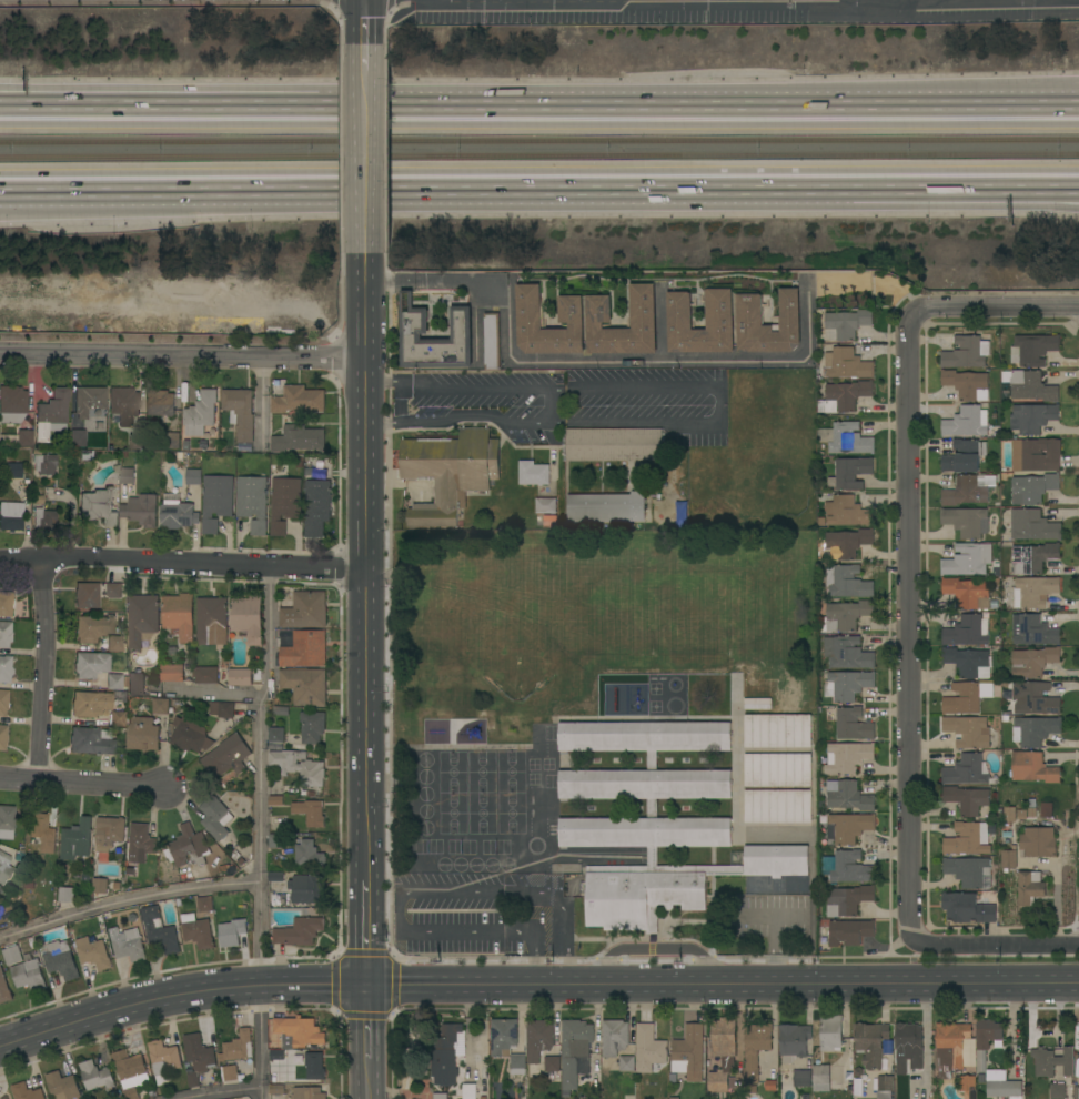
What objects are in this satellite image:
parking lot: (733, 9)
road: (367, 21)
road: (367, 56)
road: (82, 89)
road: (1042, 95)
road: (82, 97)
road: (585, 97)
railway: (539, 140)
railway: (539, 154)
road: (367, 163)
road: (221, 184)
road: (511, 184)
road: (829, 184)
road: (221, 196)
road: (827, 204)
building: (644, 309)
road: (995, 309)
building: (572, 310)
building: (720, 311)
building: (414, 321)
building: (750, 321)
road: (660, 324)
building: (845, 324)
building: (492, 341)
building: (1032, 350)
building: (966, 352)
road: (587, 359)
road: (182, 361)
building: (846, 364)
building: (966, 384)
building: (1031, 386)
road: (458, 387)
building: (843, 396)
building: (296, 399)
building: (88, 401)
building: (160, 403)
building: (11, 404)
building: (123, 405)
road: (401, 405)
road: (554, 405)
road: (719, 406)
building: (240, 412)
building: (200, 413)
building: (51, 414)
road: (458, 417)
building: (1031, 417)
building: (967, 422)
building: (23, 437)
building: (77, 437)
building: (298, 438)
building: (845, 438)
building: (172, 441)
building: (135, 442)
building: (185, 444)
building: (614, 444)
building: (244, 446)
building: (123, 453)
building: (1035, 454)
building: (85, 455)
building: (964, 456)
building: (105, 457)
building: (43, 464)
building: (12, 470)
building: (450, 473)
building: (533, 473)
building: (849, 473)
building: (125, 476)
building: (193, 476)
building: (1032, 488)
building: (970, 490)
building: (37, 498)
building: (215, 501)
building: (252, 502)
building: (284, 503)
building: (545, 505)
building: (98, 506)
building: (316, 507)
building: (606, 507)
building: (140, 510)
building: (846, 512)
building: (177, 513)
building: (682, 514)
building: (10, 516)
building: (43, 520)
building: (549, 521)
building: (966, 522)
building: (1032, 525)
building: (844, 544)
building: (1032, 557)
building: (967, 559)
road: (182, 564)
building: (996, 564)
road: (365, 567)
building: (995, 571)
building: (846, 582)
building: (94, 593)
building: (967, 593)
building: (1032, 593)
building: (992, 602)
building: (6, 603)
building: (304, 611)
building: (178, 615)
building: (844, 615)
building: (210, 617)
building: (248, 618)
building: (142, 619)
building: (93, 627)
road: (908, 631)
building: (967, 631)
building: (1035, 631)
building: (4, 634)
building: (115, 644)
building: (1, 649)
building: (171, 649)
building: (304, 649)
building: (847, 652)
building: (968, 662)
building: (1032, 662)
building: (90, 664)
building: (4, 668)
road: (39, 673)
building: (171, 673)
building: (256, 673)
building: (206, 675)
building: (240, 677)
building: (113, 682)
building: (135, 684)
building: (847, 685)
building: (304, 686)
road: (214, 693)
building: (1006, 695)
building: (1033, 698)
building: (961, 699)
building: (3, 702)
building: (173, 702)
building: (757, 703)
building: (89, 704)
building: (160, 706)
building: (221, 709)
building: (280, 710)
building: (117, 718)
building: (1004, 718)
building: (848, 724)
building: (311, 726)
building: (777, 730)
building: (1033, 730)
building: (967, 732)
building: (141, 734)
building: (189, 735)
building: (2, 736)
building: (275, 738)
building: (90, 742)
building: (226, 757)
building: (846, 757)
building: (298, 766)
building: (1031, 767)
building: (776, 769)
building: (968, 770)
road: (82, 787)
building: (306, 793)
building: (847, 795)
building: (274, 799)
building: (966, 799)
building: (777, 806)
building: (1046, 809)
building: (310, 811)
building: (1026, 814)
building: (1009, 815)
building: (215, 817)
building: (6, 819)
building: (655, 823)
building: (847, 827)
building: (42, 831)
road: (260, 831)
building: (109, 833)
building: (1006, 833)
building: (968, 838)
building: (75, 839)
building: (275, 840)
building: (1038, 841)
building: (140, 844)
building: (188, 846)
building: (19, 847)
building: (309, 854)
building: (234, 855)
building: (1008, 858)
building: (240, 860)
building: (847, 867)
building: (4, 869)
building: (129, 870)
building: (969, 871)
building: (275, 876)
building: (28, 885)
building: (99, 886)
building: (1029, 887)
building: (306, 889)
building: (1, 890)
road: (414, 893)
building: (65, 895)
building: (847, 900)
building: (178, 901)
road: (128, 903)
building: (203, 904)
building: (966, 908)
building: (204, 915)
road: (367, 929)
building: (196, 930)
building: (159, 931)
building: (299, 931)
building: (849, 931)
building: (231, 932)
building: (127, 944)
road: (997, 944)
building: (93, 952)
building: (60, 959)
building: (24, 968)
traffic signals: (369, 982)
road: (535, 984)
building: (3, 989)
road: (369, 1020)
building: (301, 1032)
building: (830, 1032)
building: (503, 1036)
building: (985, 1039)
building: (793, 1041)
building: (870, 1042)
building: (541, 1045)
building: (616, 1045)
building: (239, 1046)
building: (908, 1046)
building: (950, 1046)
building: (649, 1050)
building: (688, 1050)
building: (573, 1051)
building: (755, 1052)
building: (722, 1053)
building: (445, 1056)
building: (198, 1057)
building: (163, 1060)
building: (1051, 1061)
building: (517, 1065)
building: (313, 1066)
building: (130, 1072)
building: (230, 1072)
building: (820, 1075)
building: (95, 1076)
road: (369, 1078)
building: (801, 1078)
building: (967, 1082)
building: (885, 1083)
building: (769, 1085)
building: (1000, 1085)
building: (61, 1086)
building: (26, 1091)
building: (468, 1091)
building: (1057, 1091)
building: (307, 1092)
building: (1076, 1092)
road: (226, 1093)
building: (440, 1096)
building: (482, 1097)

